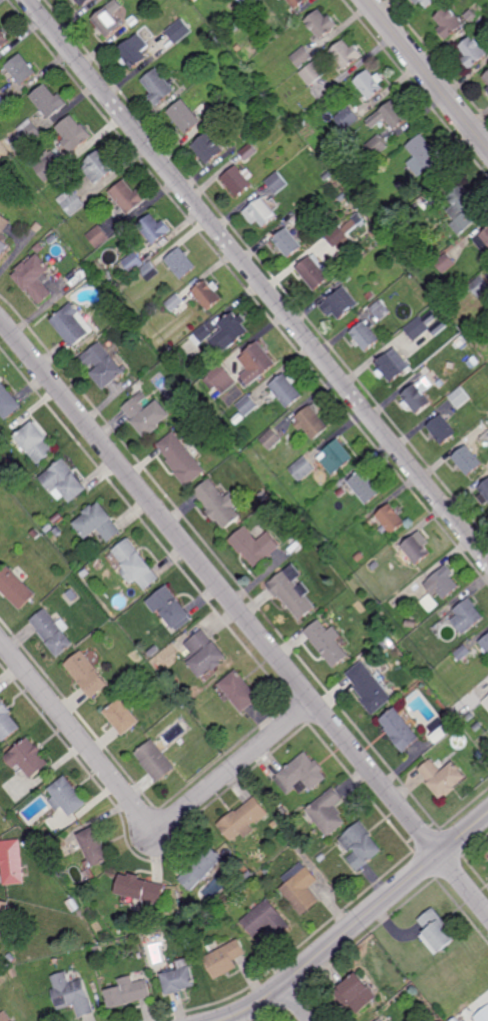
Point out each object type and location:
building: (195, 0)
building: (280, 0)
building: (81, 1)
building: (418, 1)
building: (247, 2)
building: (429, 2)
building: (297, 5)
building: (110, 20)
building: (135, 20)
building: (449, 21)
building: (322, 24)
building: (180, 30)
building: (4, 38)
building: (216, 40)
building: (239, 47)
building: (135, 50)
building: (473, 51)
building: (345, 54)
building: (302, 56)
building: (23, 68)
building: (314, 72)
road: (428, 73)
building: (486, 75)
building: (370, 84)
building: (159, 85)
building: (487, 88)
building: (50, 100)
building: (3, 103)
building: (216, 109)
building: (391, 115)
building: (185, 116)
building: (291, 116)
building: (348, 118)
building: (300, 124)
building: (75, 132)
building: (27, 135)
building: (377, 145)
building: (208, 148)
building: (249, 151)
building: (426, 156)
building: (101, 166)
building: (51, 167)
building: (327, 176)
building: (238, 179)
building: (277, 182)
building: (128, 196)
building: (342, 197)
building: (427, 200)
building: (72, 201)
building: (463, 208)
building: (261, 212)
building: (360, 219)
building: (443, 222)
building: (38, 226)
building: (351, 226)
building: (155, 228)
building: (376, 233)
building: (99, 236)
building: (4, 237)
building: (340, 238)
building: (54, 239)
building: (288, 242)
building: (483, 242)
building: (134, 263)
building: (181, 263)
building: (445, 263)
building: (150, 271)
building: (315, 271)
building: (347, 276)
building: (35, 278)
road: (257, 279)
building: (479, 285)
building: (208, 294)
building: (175, 302)
building: (340, 303)
building: (381, 310)
building: (431, 319)
building: (73, 325)
building: (417, 328)
building: (230, 332)
building: (201, 334)
building: (364, 335)
building: (461, 340)
building: (258, 363)
building: (102, 365)
building: (393, 365)
building: (219, 375)
building: (287, 390)
building: (459, 397)
building: (416, 398)
building: (7, 402)
building: (247, 405)
building: (199, 413)
building: (146, 415)
building: (240, 417)
building: (312, 422)
building: (441, 430)
building: (271, 439)
building: (36, 443)
building: (337, 457)
building: (181, 459)
building: (467, 460)
building: (302, 469)
building: (64, 481)
building: (365, 487)
building: (341, 492)
building: (483, 493)
building: (263, 496)
building: (218, 503)
building: (391, 519)
building: (98, 522)
building: (47, 527)
building: (57, 531)
building: (34, 534)
building: (255, 544)
building: (416, 549)
building: (360, 557)
building: (135, 564)
building: (375, 565)
building: (84, 573)
building: (444, 582)
building: (65, 585)
building: (15, 588)
building: (294, 591)
building: (430, 603)
building: (171, 607)
building: (467, 615)
road: (243, 617)
building: (436, 619)
building: (411, 623)
building: (52, 631)
building: (378, 631)
building: (328, 642)
building: (485, 644)
building: (463, 652)
building: (205, 653)
building: (87, 673)
building: (371, 687)
building: (241, 691)
building: (487, 698)
building: (174, 703)
building: (123, 713)
building: (7, 721)
building: (400, 729)
building: (444, 730)
building: (479, 754)
building: (28, 757)
building: (156, 760)
building: (304, 774)
building: (442, 777)
building: (67, 796)
road: (138, 811)
building: (328, 812)
building: (244, 819)
building: (49, 838)
building: (37, 843)
building: (362, 845)
building: (95, 846)
building: (28, 847)
building: (322, 858)
building: (11, 862)
building: (202, 866)
building: (266, 871)
building: (249, 875)
building: (301, 888)
building: (141, 889)
building: (181, 903)
building: (4, 915)
building: (266, 920)
road: (357, 922)
building: (435, 932)
building: (106, 937)
building: (94, 950)
building: (11, 958)
building: (225, 959)
building: (13, 973)
building: (179, 979)
building: (129, 991)
building: (357, 994)
building: (74, 998)
road: (299, 1002)
building: (5, 1016)
building: (482, 1016)
building: (380, 1020)
building: (457, 1020)

